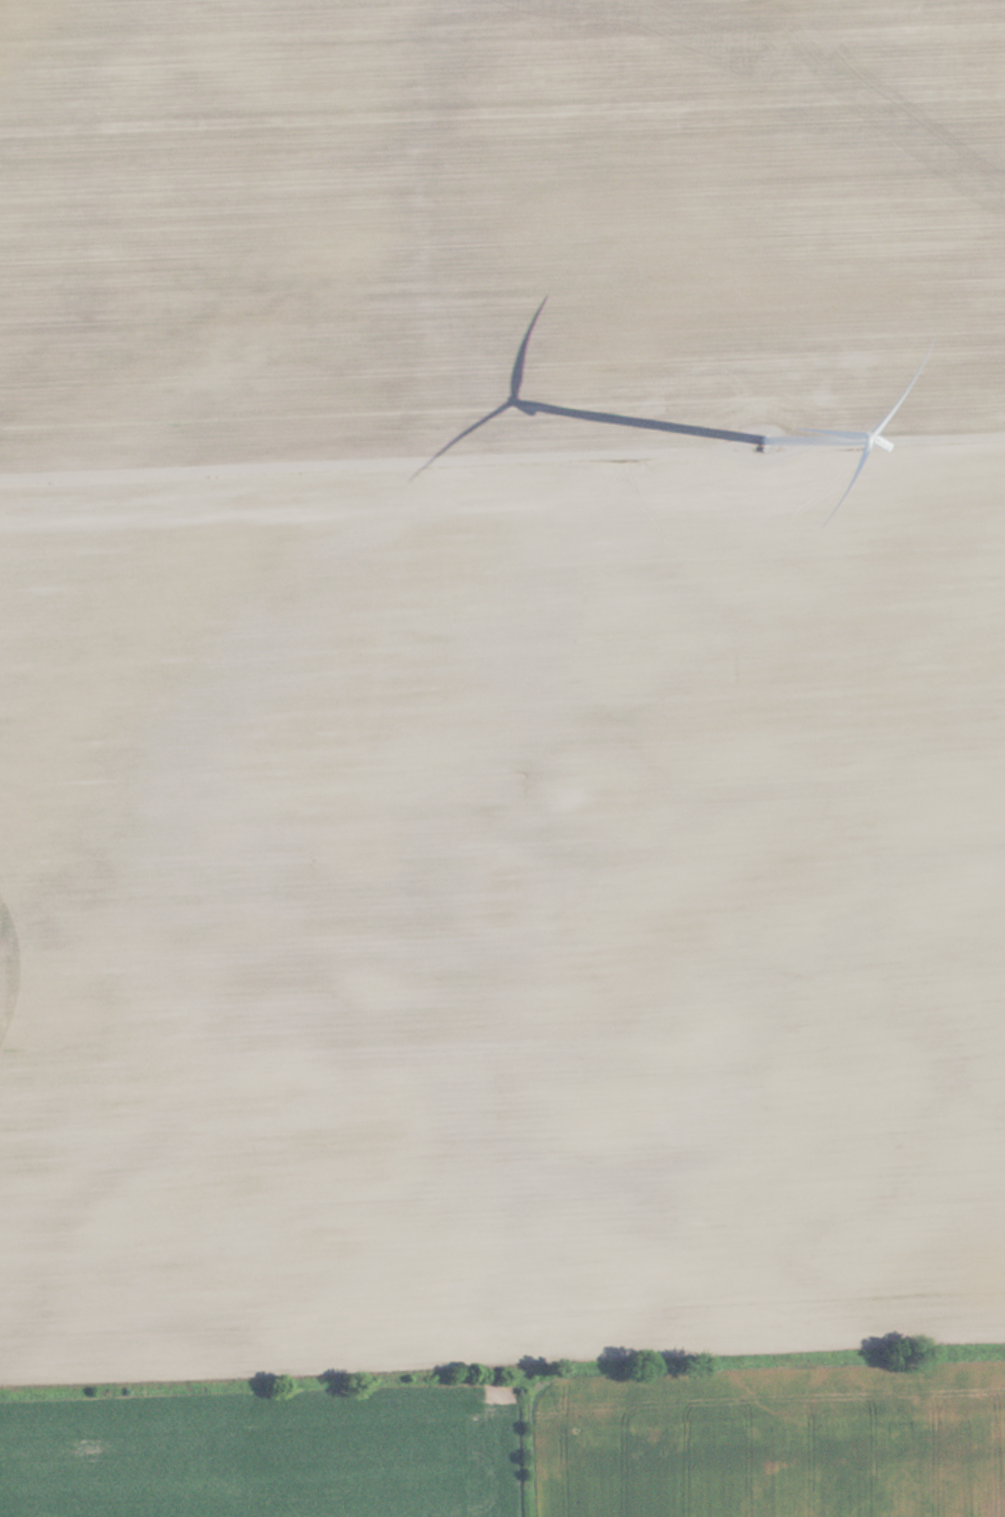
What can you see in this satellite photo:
wind turbine: (756, 436)
road: (314, 456)

